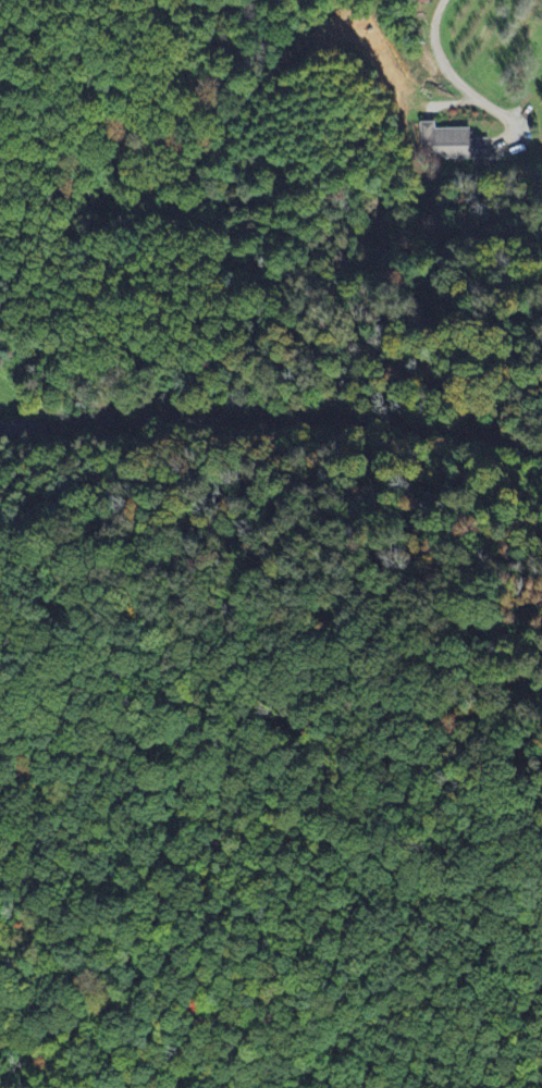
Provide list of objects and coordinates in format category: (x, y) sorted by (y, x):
road: (434, 42)
building: (467, 146)
road: (272, 418)
road: (308, 635)
road: (1, 714)

